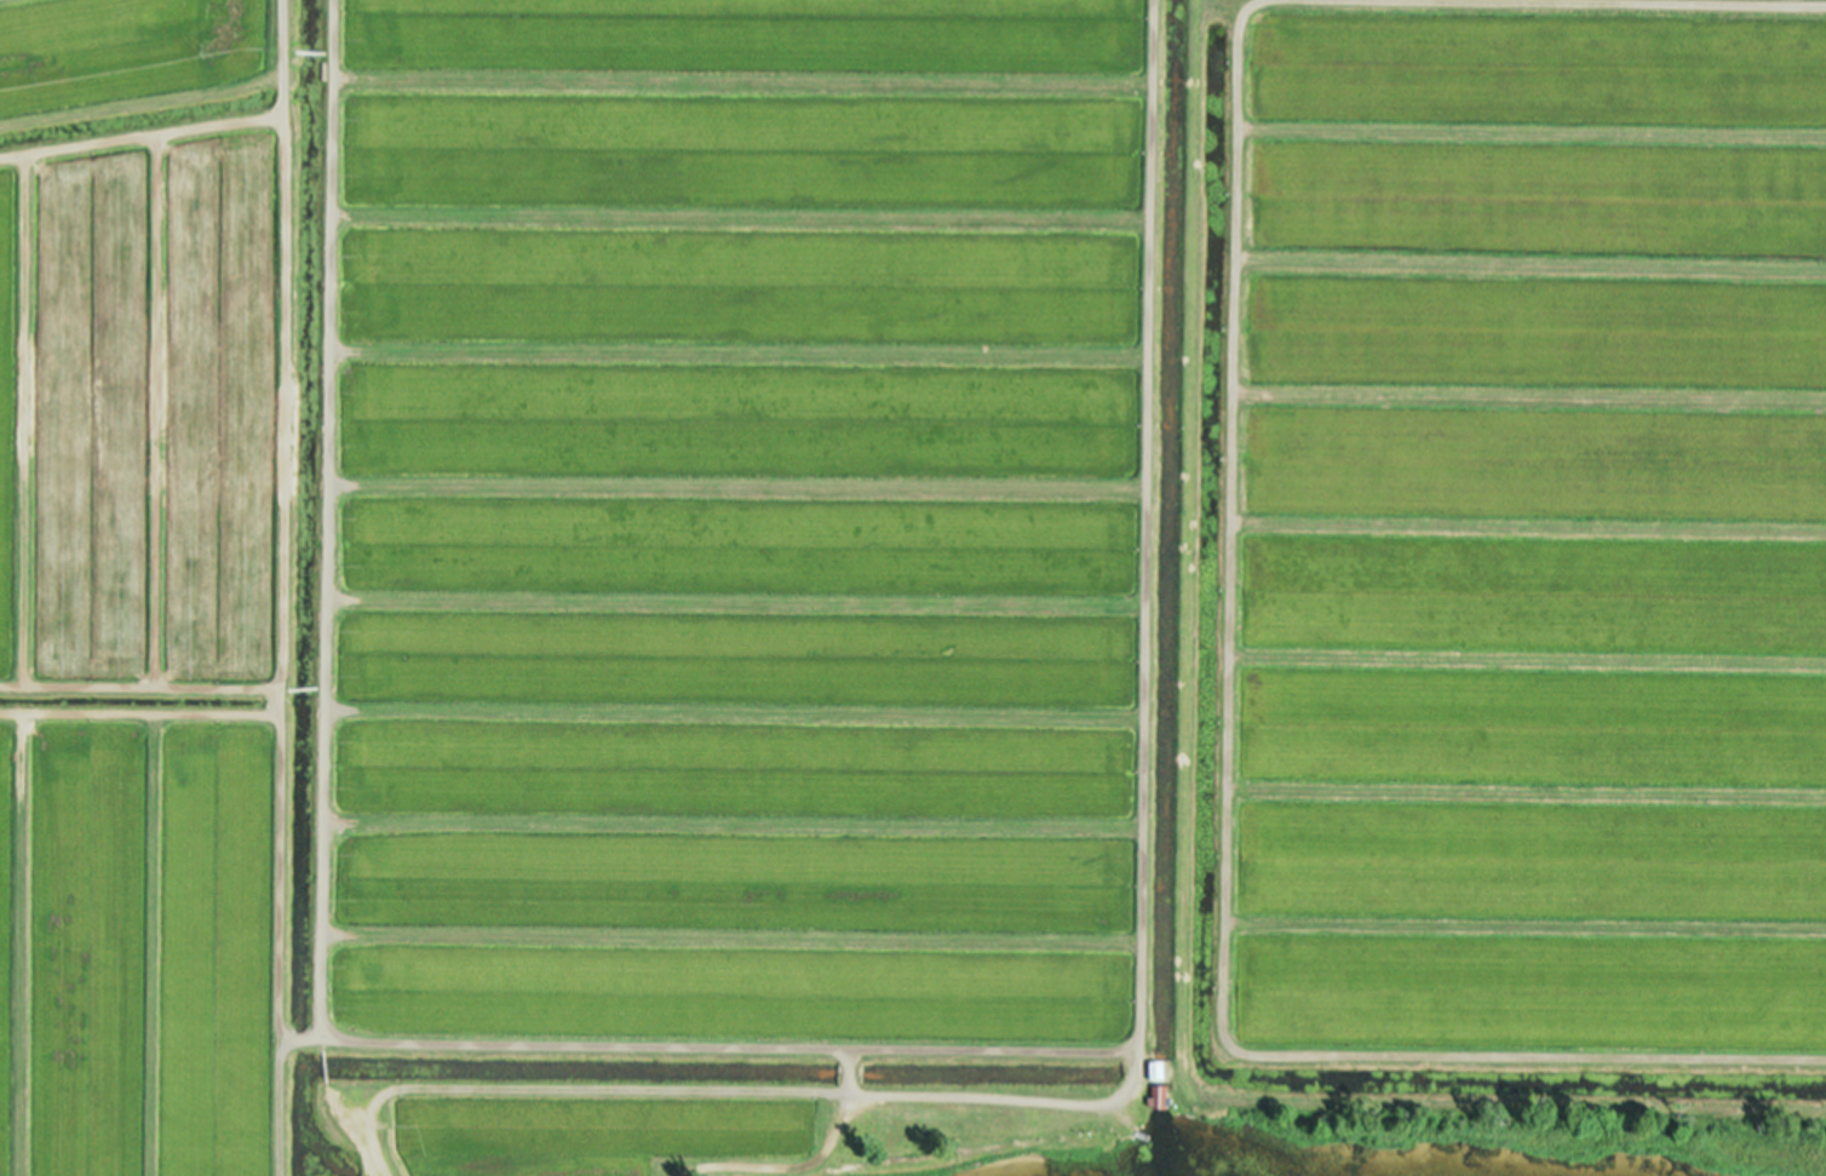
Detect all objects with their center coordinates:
road: (1120, 481)
crop: (912, 586)

